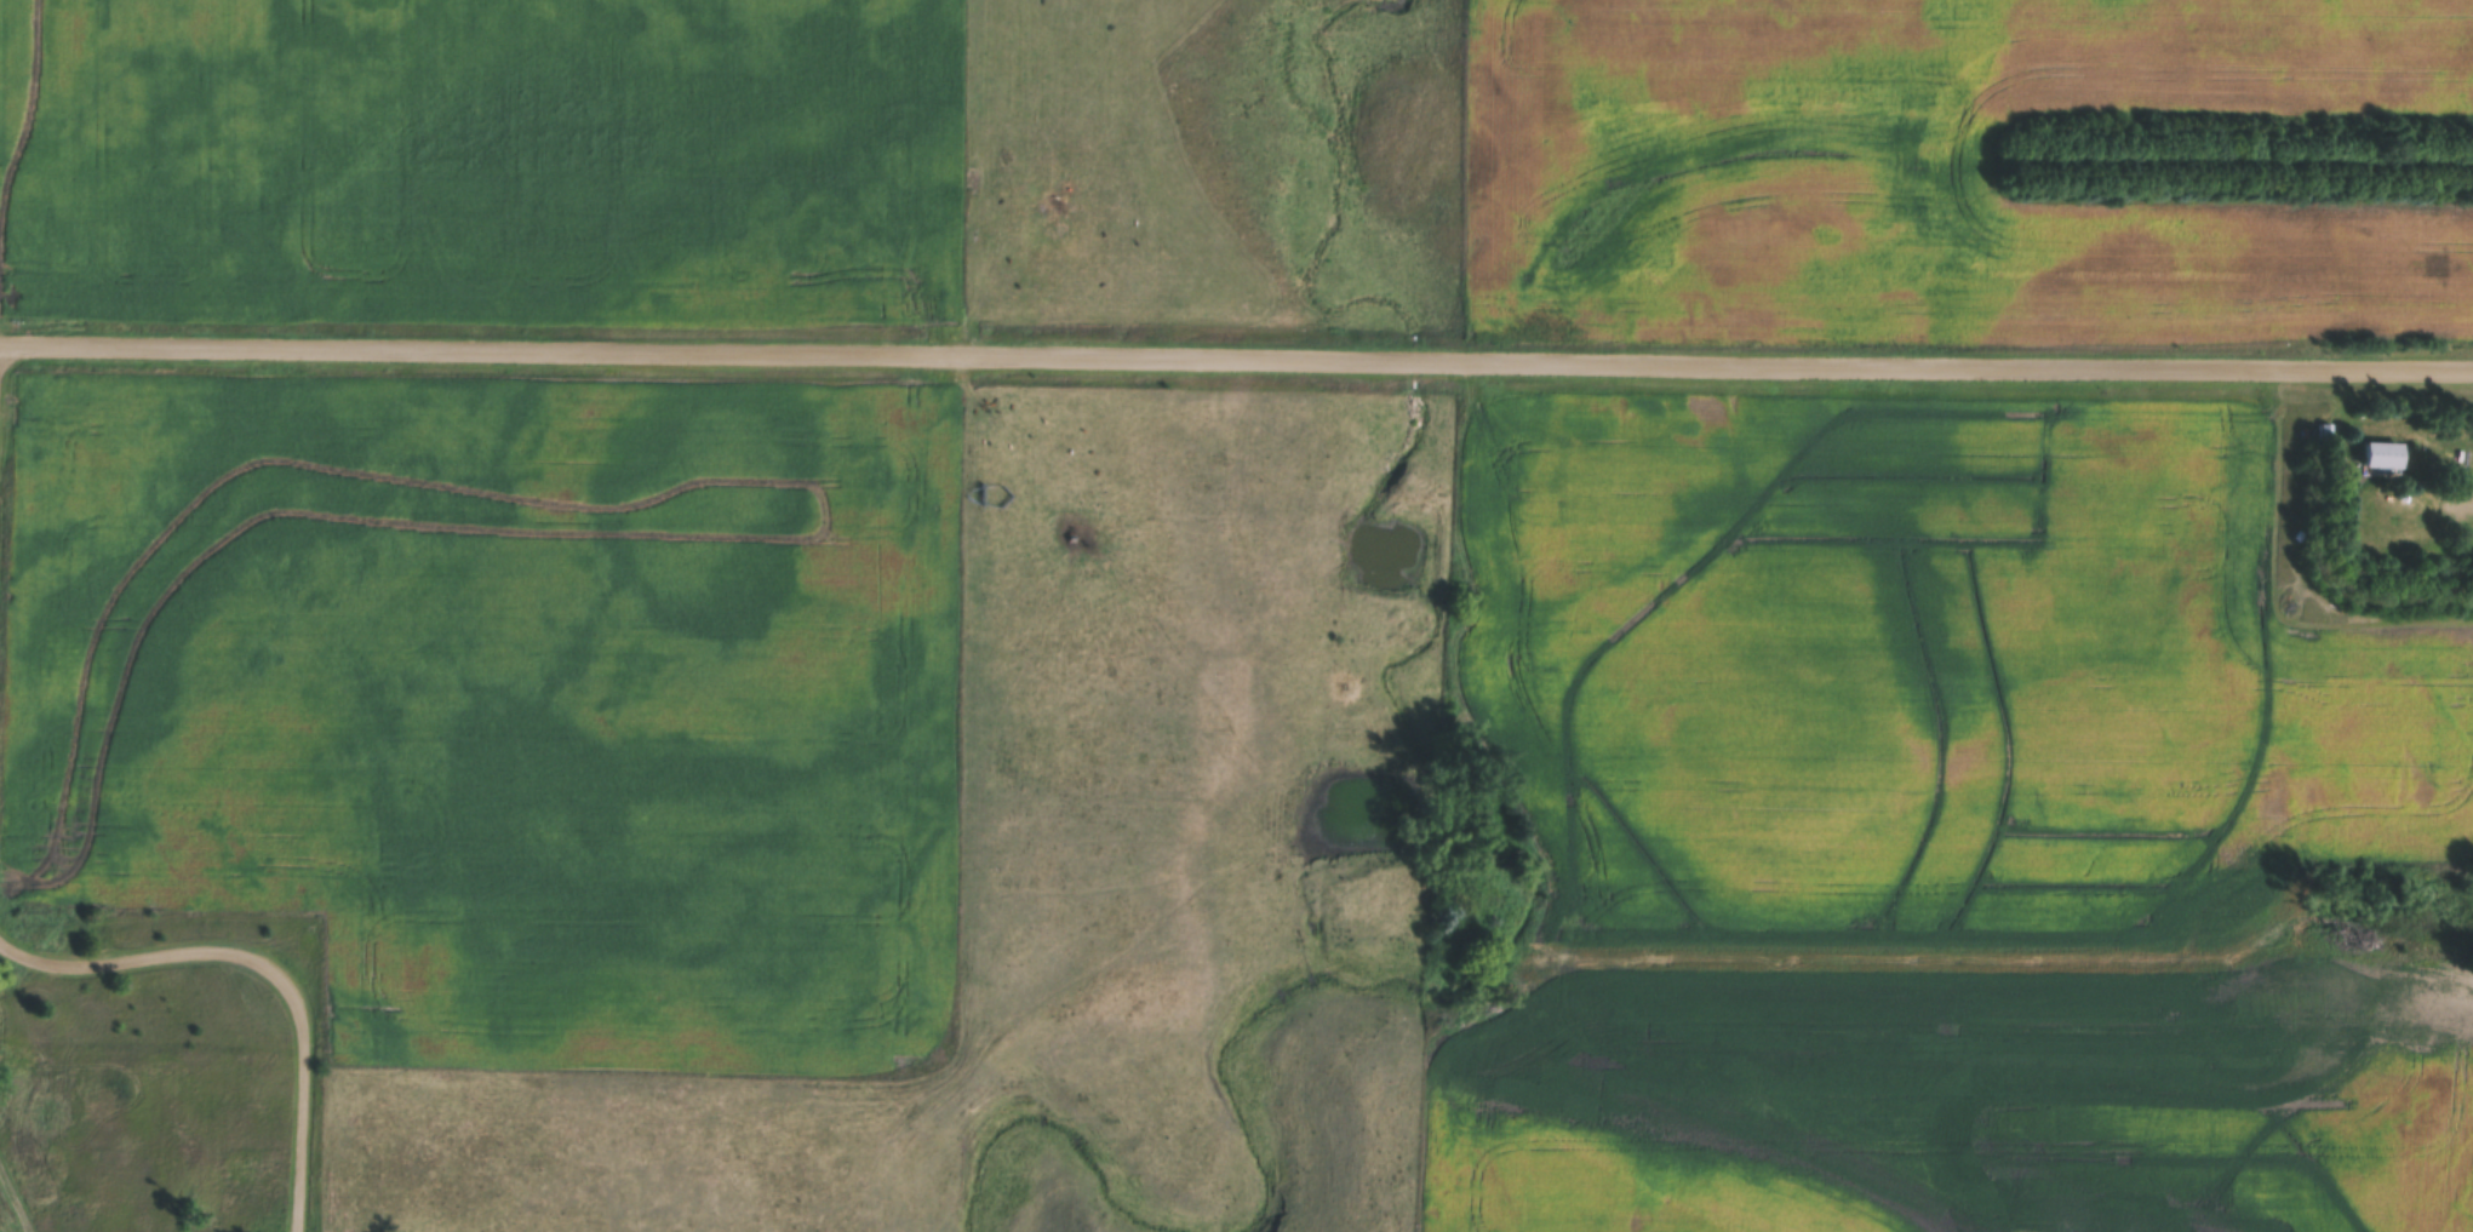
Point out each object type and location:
road: (726, 350)
road: (1962, 362)
building: (2382, 455)
road: (270, 968)

